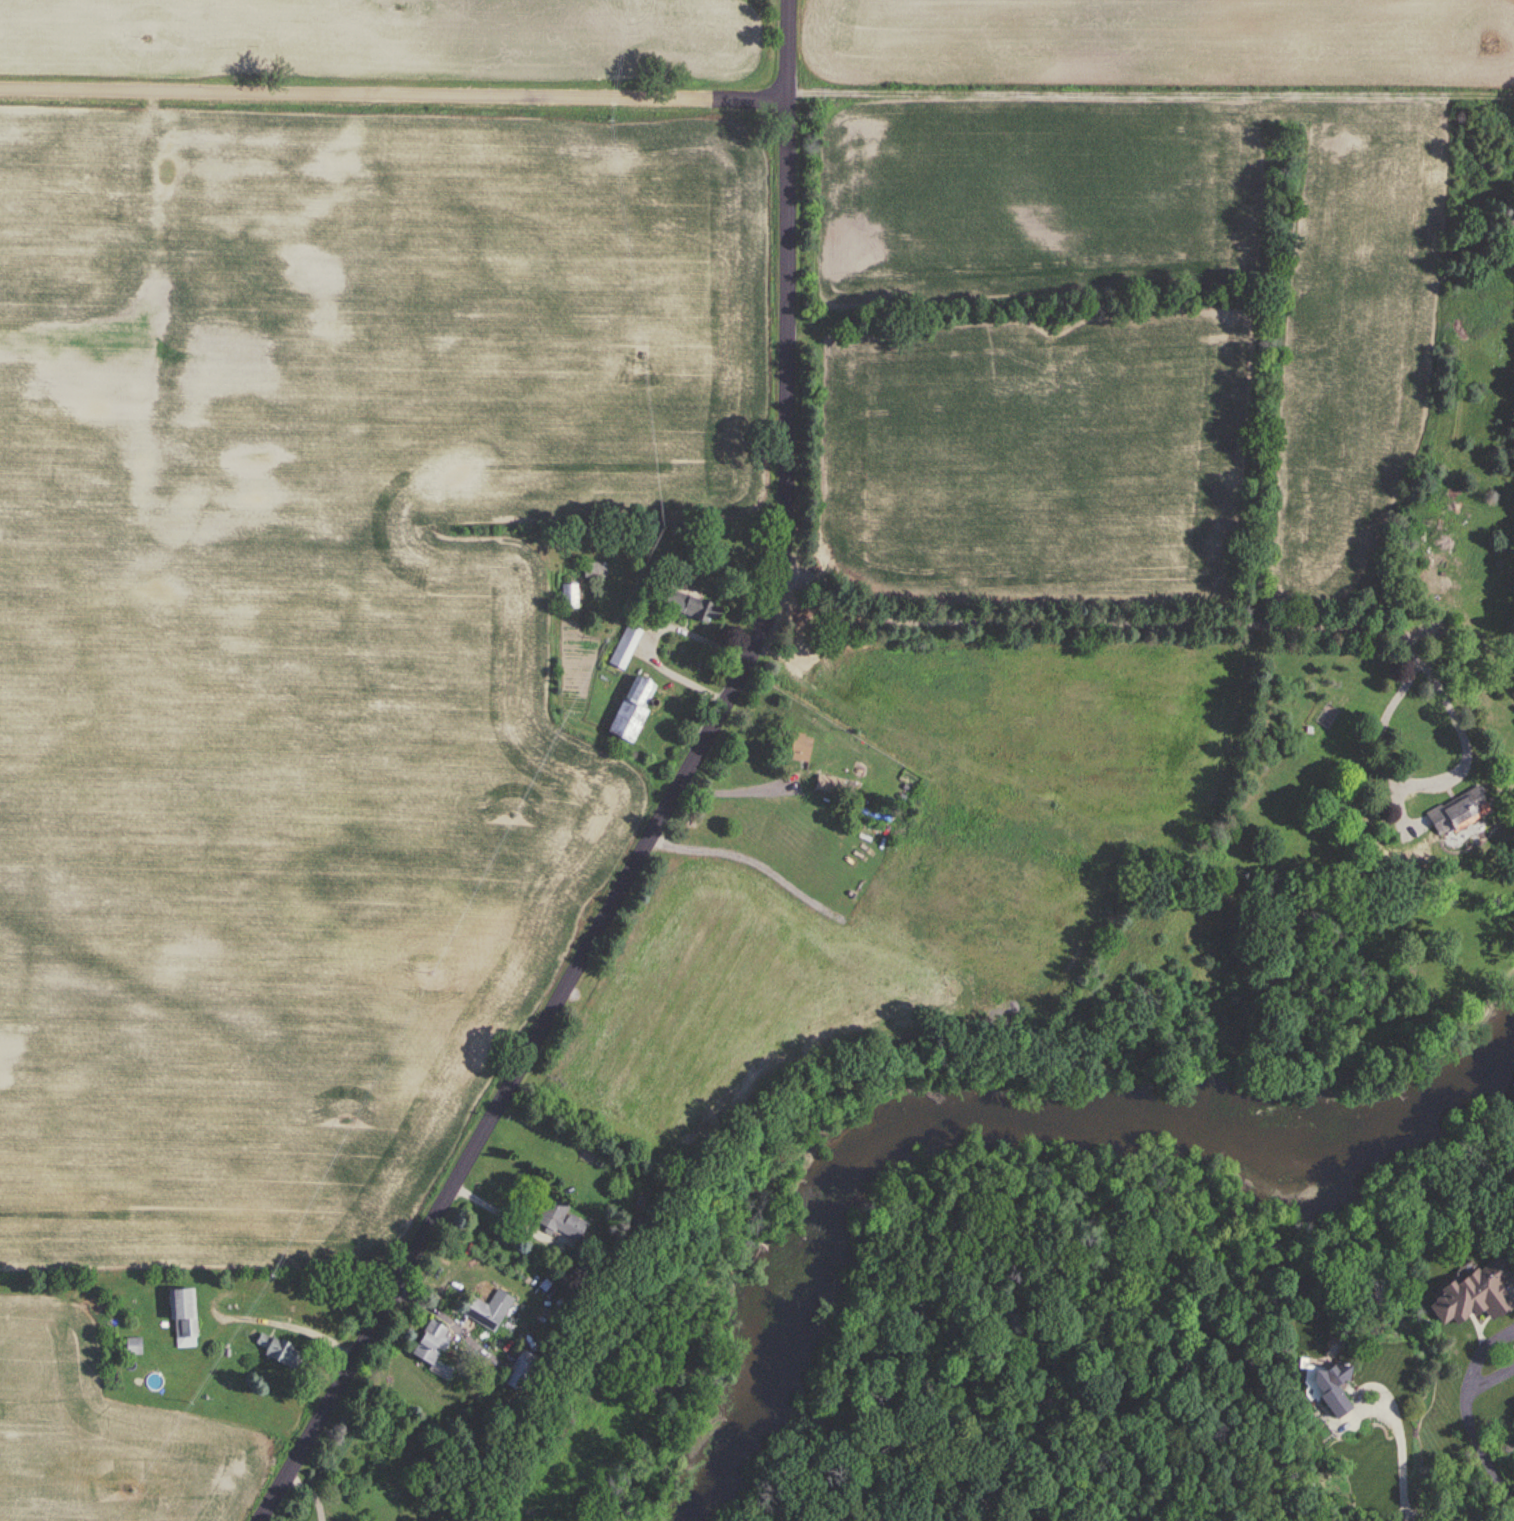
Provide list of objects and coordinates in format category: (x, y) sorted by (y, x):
road: (395, 94)
building: (595, 570)
building: (569, 595)
building: (688, 605)
road: (1102, 624)
road: (650, 636)
building: (624, 647)
road: (1453, 708)
building: (630, 711)
building: (821, 781)
road: (741, 790)
road: (673, 802)
building: (1456, 812)
river: (996, 1117)
building: (559, 1220)
building: (1474, 1294)
building: (484, 1310)
building: (181, 1317)
road: (292, 1326)
building: (430, 1343)
building: (132, 1346)
park: (1030, 1346)
building: (272, 1349)
building: (510, 1376)
building: (1330, 1386)
road: (1470, 1427)
road: (1402, 1458)
road: (312, 1492)
road: (1427, 1520)

